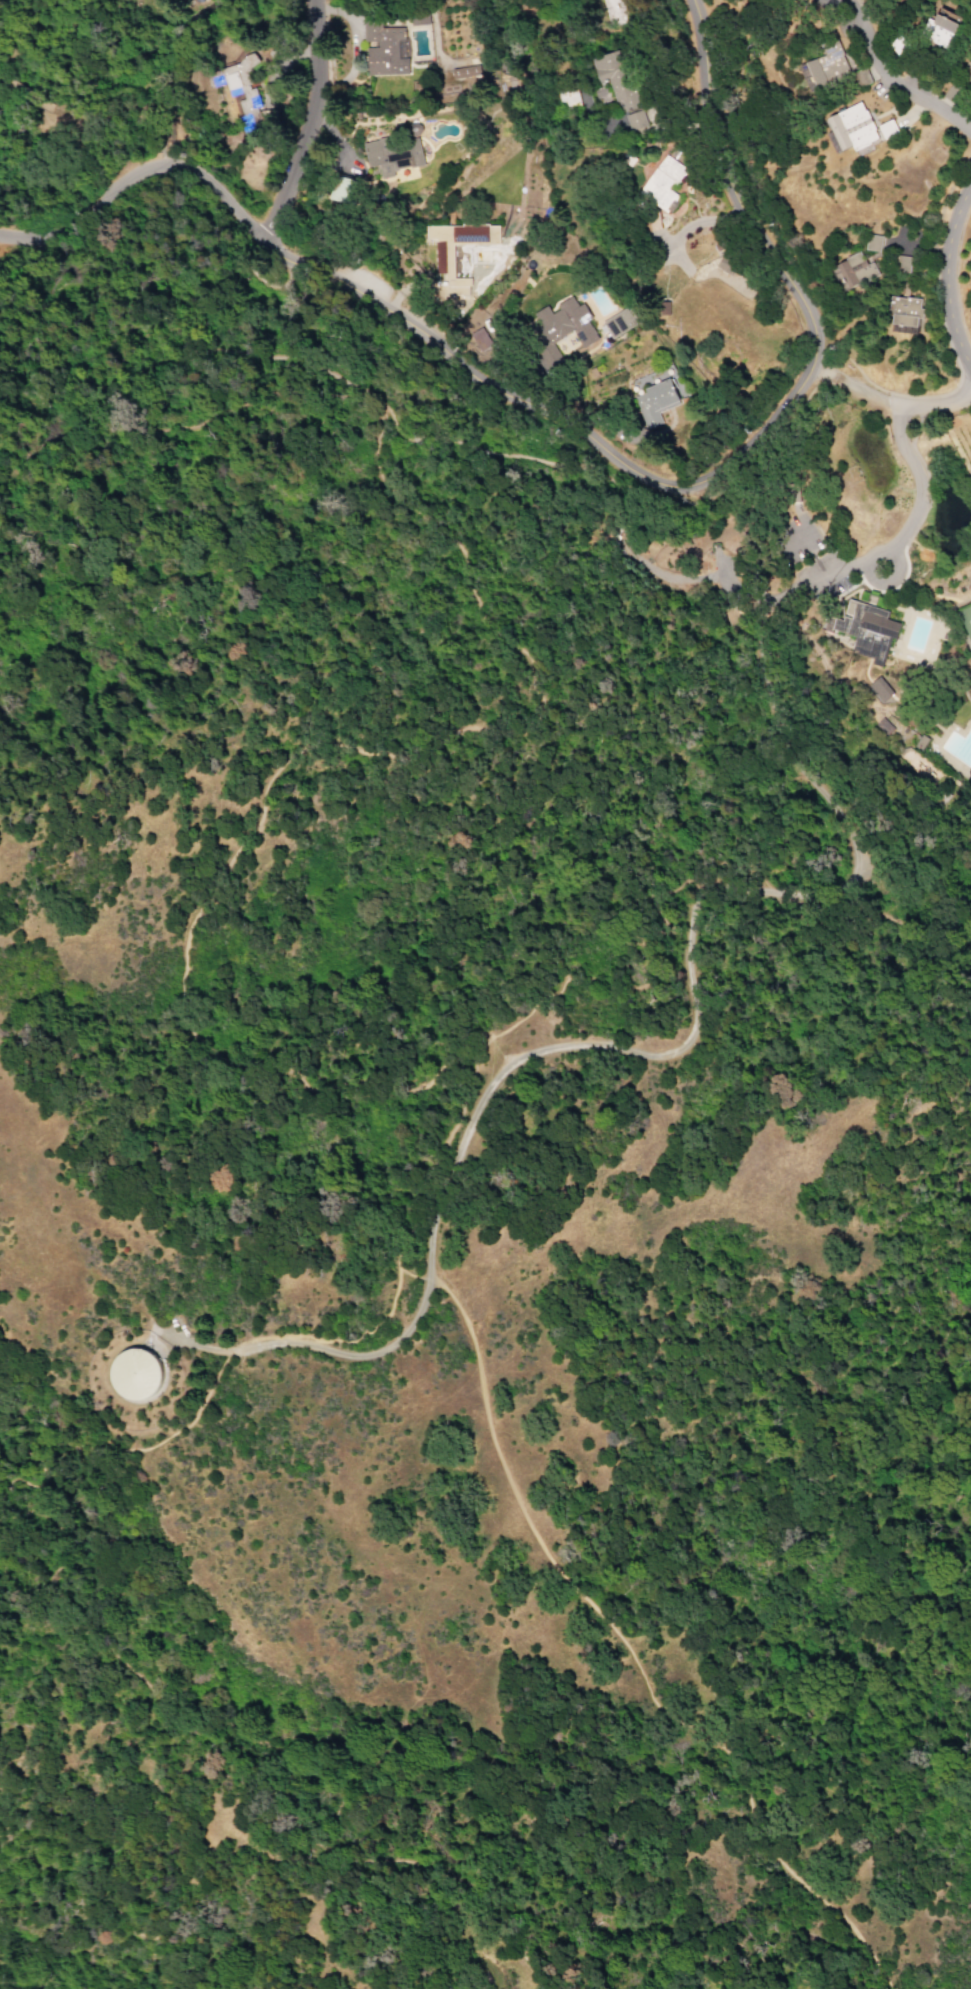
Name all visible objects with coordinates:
building: (196, 1)
building: (611, 11)
building: (418, 19)
building: (937, 31)
building: (384, 49)
building: (827, 66)
building: (464, 72)
building: (966, 73)
road: (891, 78)
road: (8, 84)
building: (617, 85)
building: (235, 87)
building: (566, 97)
road: (30, 98)
road: (121, 111)
road: (306, 121)
building: (885, 128)
building: (850, 130)
road: (167, 151)
building: (392, 154)
building: (661, 185)
building: (340, 190)
road: (220, 195)
road: (88, 204)
road: (703, 221)
building: (872, 243)
building: (443, 258)
building: (721, 259)
building: (901, 264)
building: (853, 270)
road: (932, 274)
parking lot: (356, 275)
road: (942, 277)
building: (903, 314)
building: (618, 323)
building: (559, 329)
road: (195, 354)
road: (886, 392)
road: (962, 392)
road: (888, 398)
building: (654, 402)
road: (175, 427)
road: (773, 433)
crop: (962, 447)
road: (718, 475)
road: (706, 485)
road: (889, 581)
park: (964, 621)
building: (863, 628)
building: (879, 689)
building: (881, 727)
road: (679, 887)
road: (689, 949)
road: (437, 1074)
road: (969, 1361)
building: (135, 1374)
storage tank: (137, 1375)
road: (20, 1454)
road: (35, 1475)
road: (17, 1479)
road: (44, 1527)
road: (213, 1709)
road: (88, 1884)

